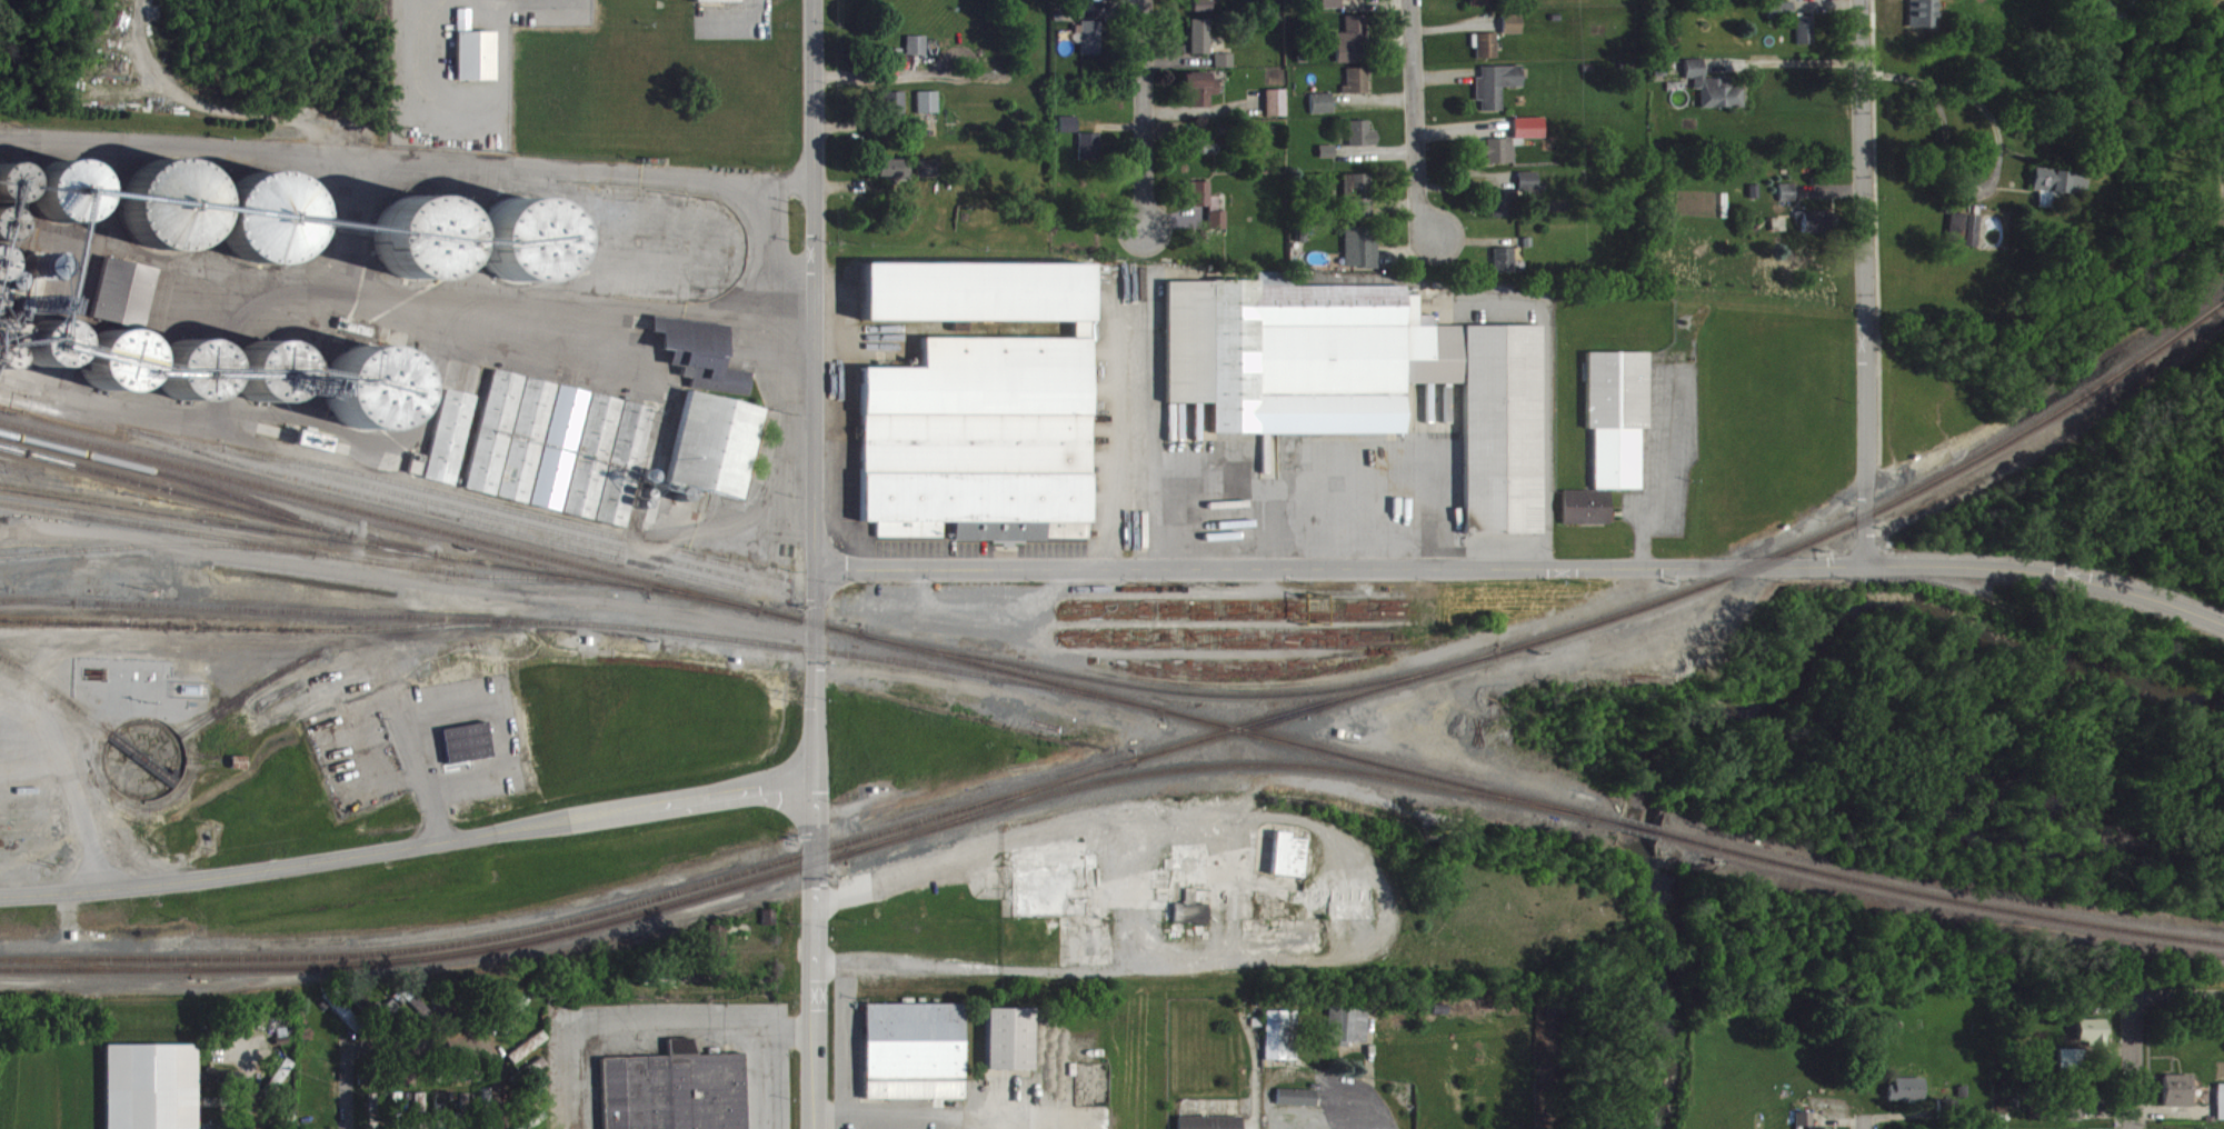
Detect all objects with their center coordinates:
building: (1674, 1)
building: (1922, 1)
building: (1356, 2)
building: (719, 4)
building: (1483, 7)
building: (1333, 8)
building: (1201, 10)
building: (1782, 13)
building: (1925, 21)
building: (1514, 32)
building: (1806, 39)
building: (1201, 44)
building: (1091, 47)
building: (1354, 49)
building: (918, 54)
building: (1488, 54)
building: (475, 60)
building: (895, 68)
building: (1226, 69)
road: (1787, 72)
building: (1357, 89)
building: (1498, 93)
building: (1203, 97)
building: (1715, 97)
building: (929, 111)
building: (1277, 111)
building: (896, 112)
building: (1323, 112)
road: (1146, 114)
road: (1416, 119)
building: (1070, 133)
building: (1530, 137)
building: (1362, 142)
building: (1205, 153)
building: (1090, 156)
building: (1502, 159)
building: (1328, 160)
road: (406, 162)
building: (929, 177)
building: (891, 178)
building: (1529, 189)
building: (2057, 193)
building: (173, 194)
building: (1789, 202)
building: (1359, 204)
building: (1206, 212)
building: (1505, 212)
building: (1815, 230)
building: (1965, 239)
building: (472, 248)
building: (1363, 256)
building: (1505, 269)
road: (759, 279)
road: (1863, 281)
building: (126, 301)
building: (702, 363)
building: (1362, 386)
building: (371, 397)
building: (980, 416)
building: (1618, 424)
building: (451, 446)
building: (511, 446)
building: (714, 456)
building: (561, 457)
building: (610, 469)
railway: (180, 487)
railway: (219, 509)
railway: (395, 511)
building: (1587, 516)
railway: (462, 517)
road: (32, 518)
railway: (510, 519)
railway: (219, 531)
railway: (436, 538)
railway: (174, 539)
road: (68, 543)
railway: (159, 554)
road: (814, 564)
road: (1524, 564)
railway: (547, 582)
railway: (1692, 587)
railway: (558, 588)
road: (442, 597)
railway: (39, 611)
railway: (561, 631)
railway: (78, 632)
railway: (330, 639)
road: (285, 650)
railway: (792, 663)
railway: (1184, 691)
railway: (252, 700)
railway: (58, 702)
road: (49, 726)
railway: (1238, 730)
building: (468, 752)
railway: (1196, 766)
railway: (147, 768)
railway: (211, 770)
building: (241, 772)
railway: (176, 798)
road: (77, 801)
railway: (994, 802)
railway: (1662, 835)
road: (407, 858)
building: (1286, 865)
road: (1143, 896)
railway: (1969, 901)
railway: (565, 920)
building: (1190, 923)
railway: (446, 952)
railway: (101, 961)
road: (2176, 997)
road: (638, 1033)
building: (1348, 1033)
building: (2093, 1039)
building: (1279, 1045)
road: (422, 1048)
building: (1011, 1048)
building: (533, 1052)
building: (916, 1060)
road: (2131, 1063)
road: (775, 1065)
building: (2071, 1068)
road: (248, 1089)
building: (152, 1091)
road: (345, 1095)
building: (677, 1095)
road: (497, 1097)
building: (1908, 1098)
building: (2178, 1100)
building: (1297, 1107)
building: (2221, 1111)
building: (421, 1112)
road: (916, 1116)
road: (1360, 1118)
building: (2071, 1119)
building: (1806, 1125)
road: (1863, 1126)
building: (1211, 1127)

